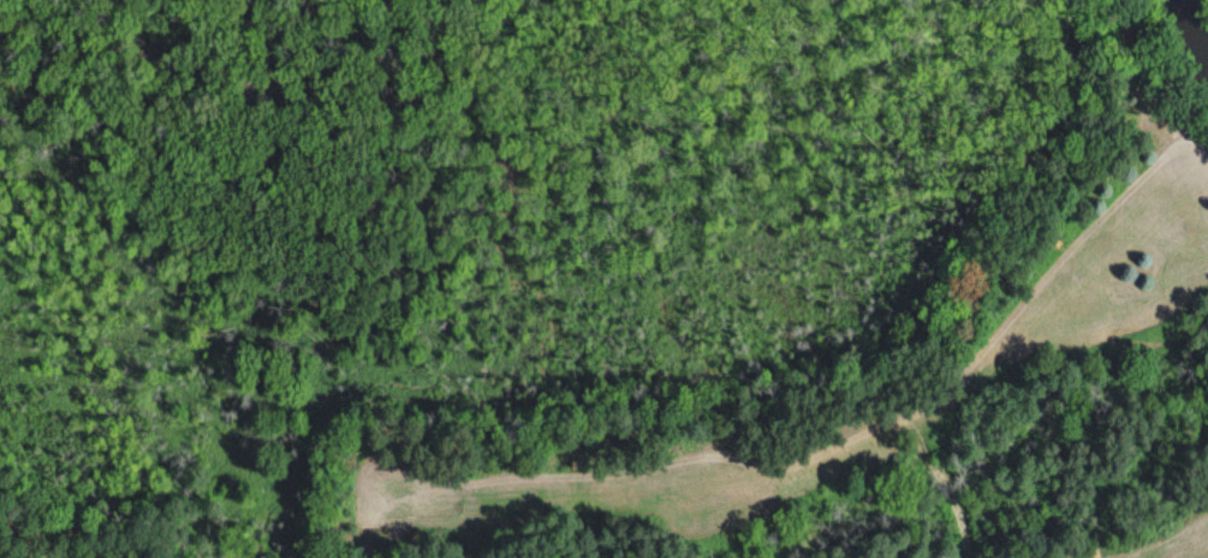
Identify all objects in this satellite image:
river: (1197, 16)

